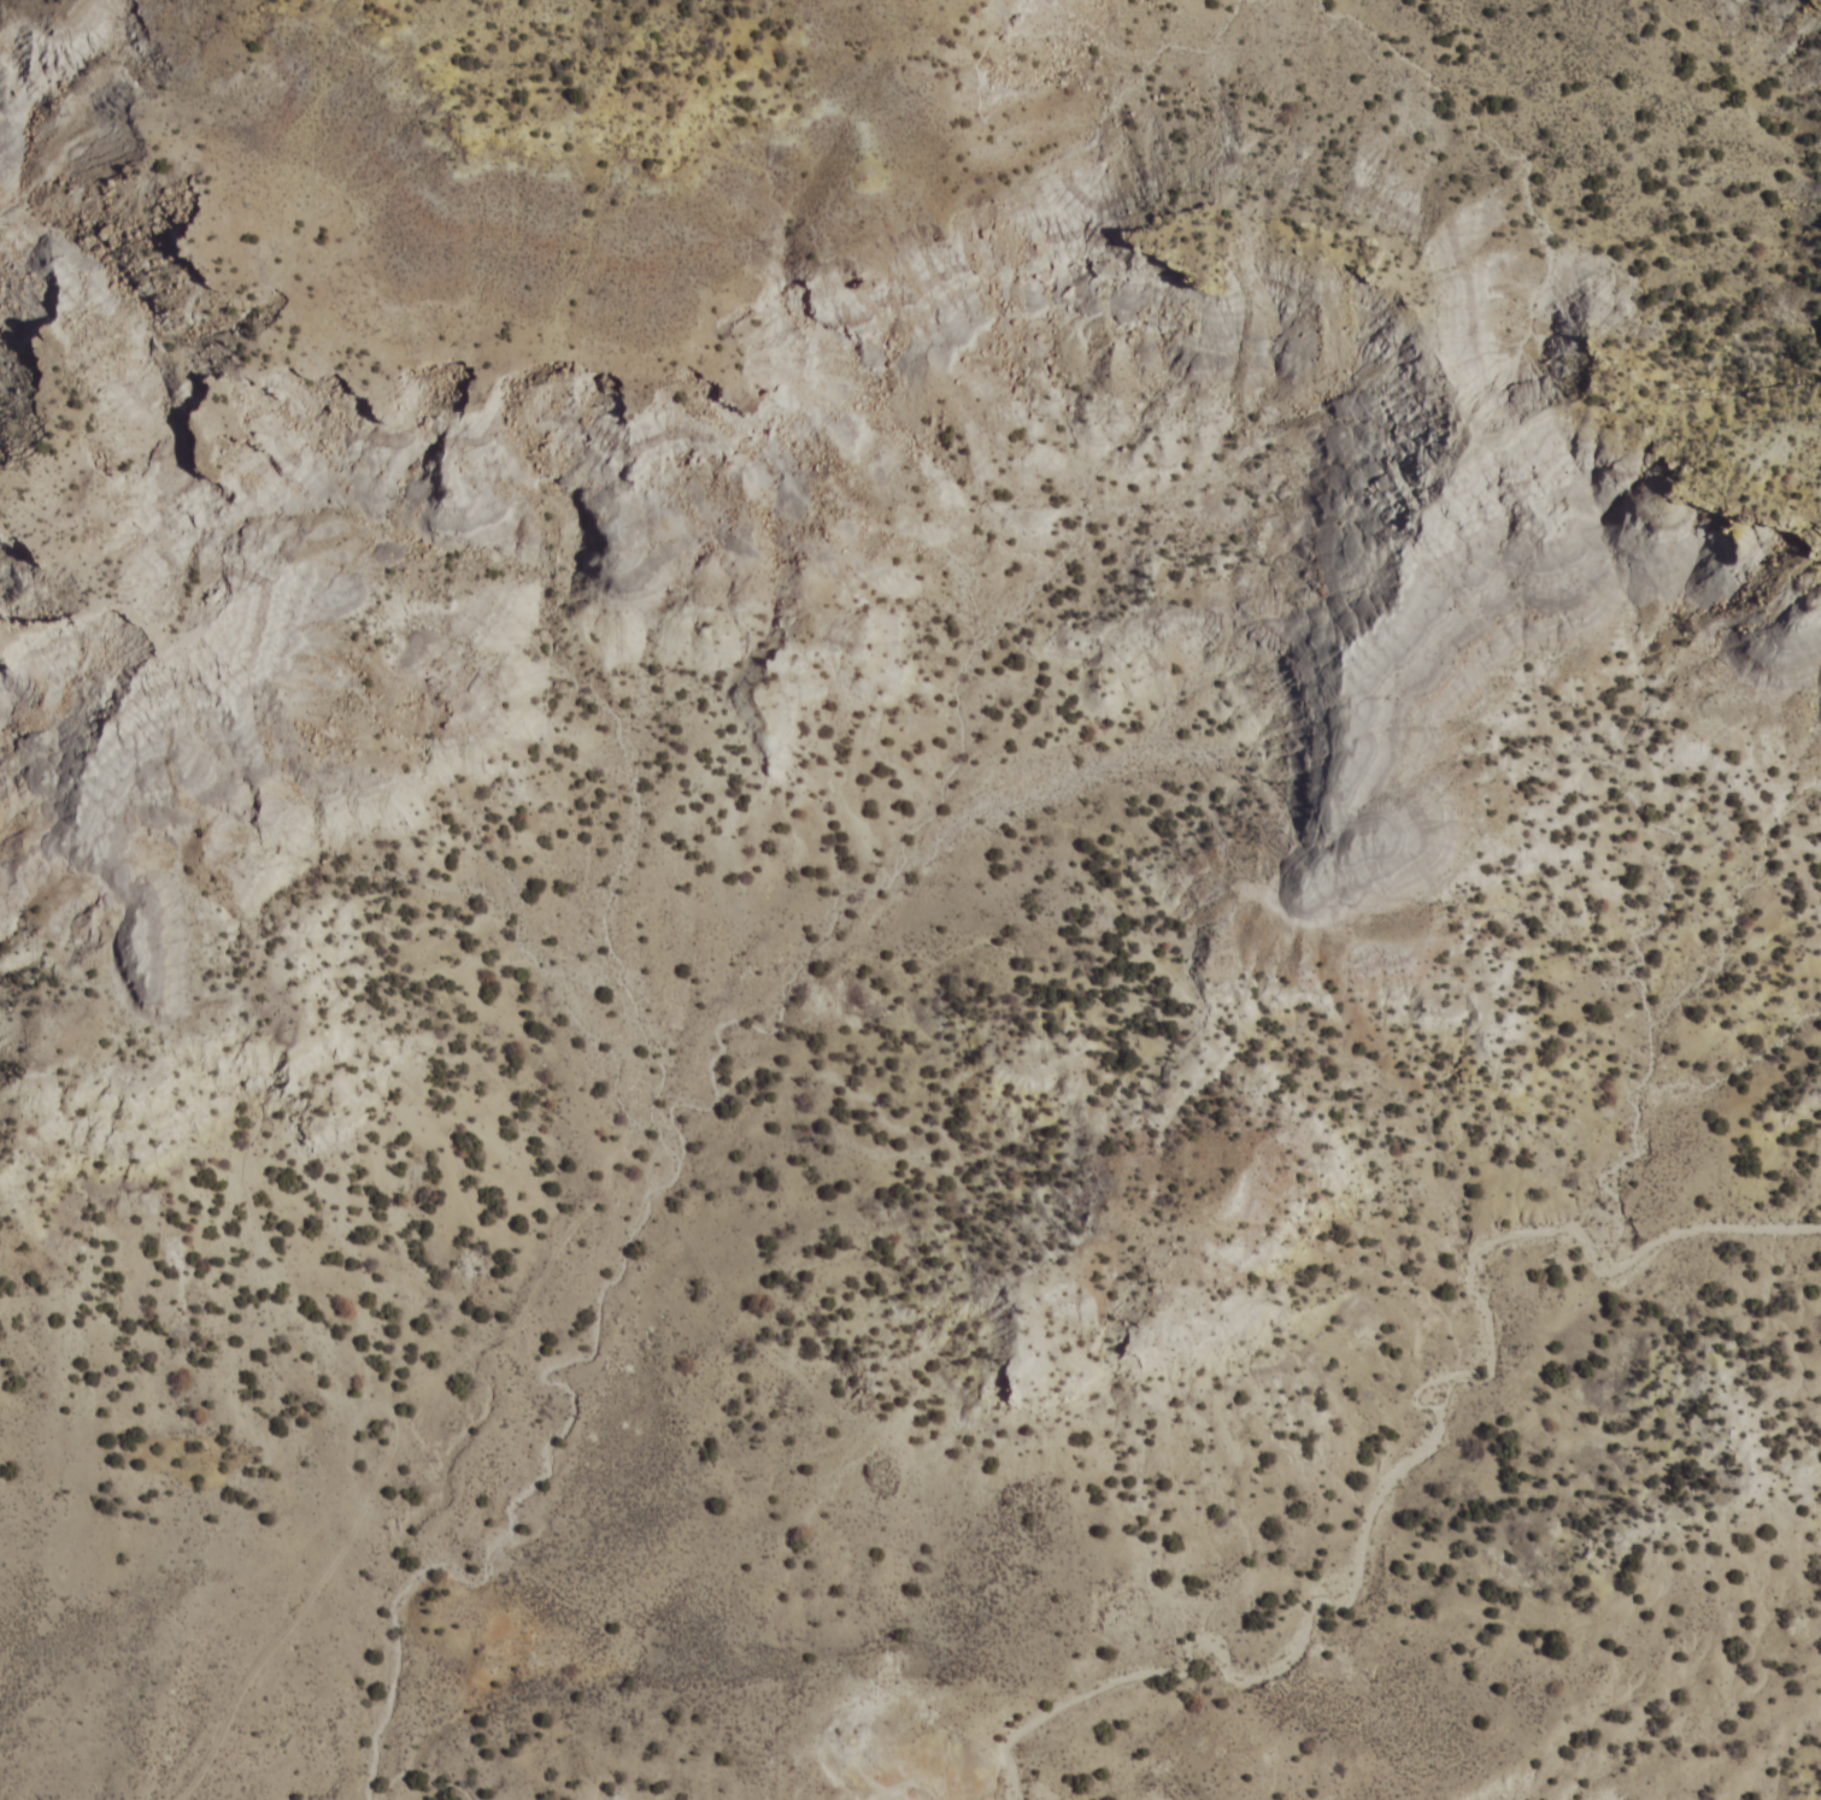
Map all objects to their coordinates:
road: (114, 1537)

